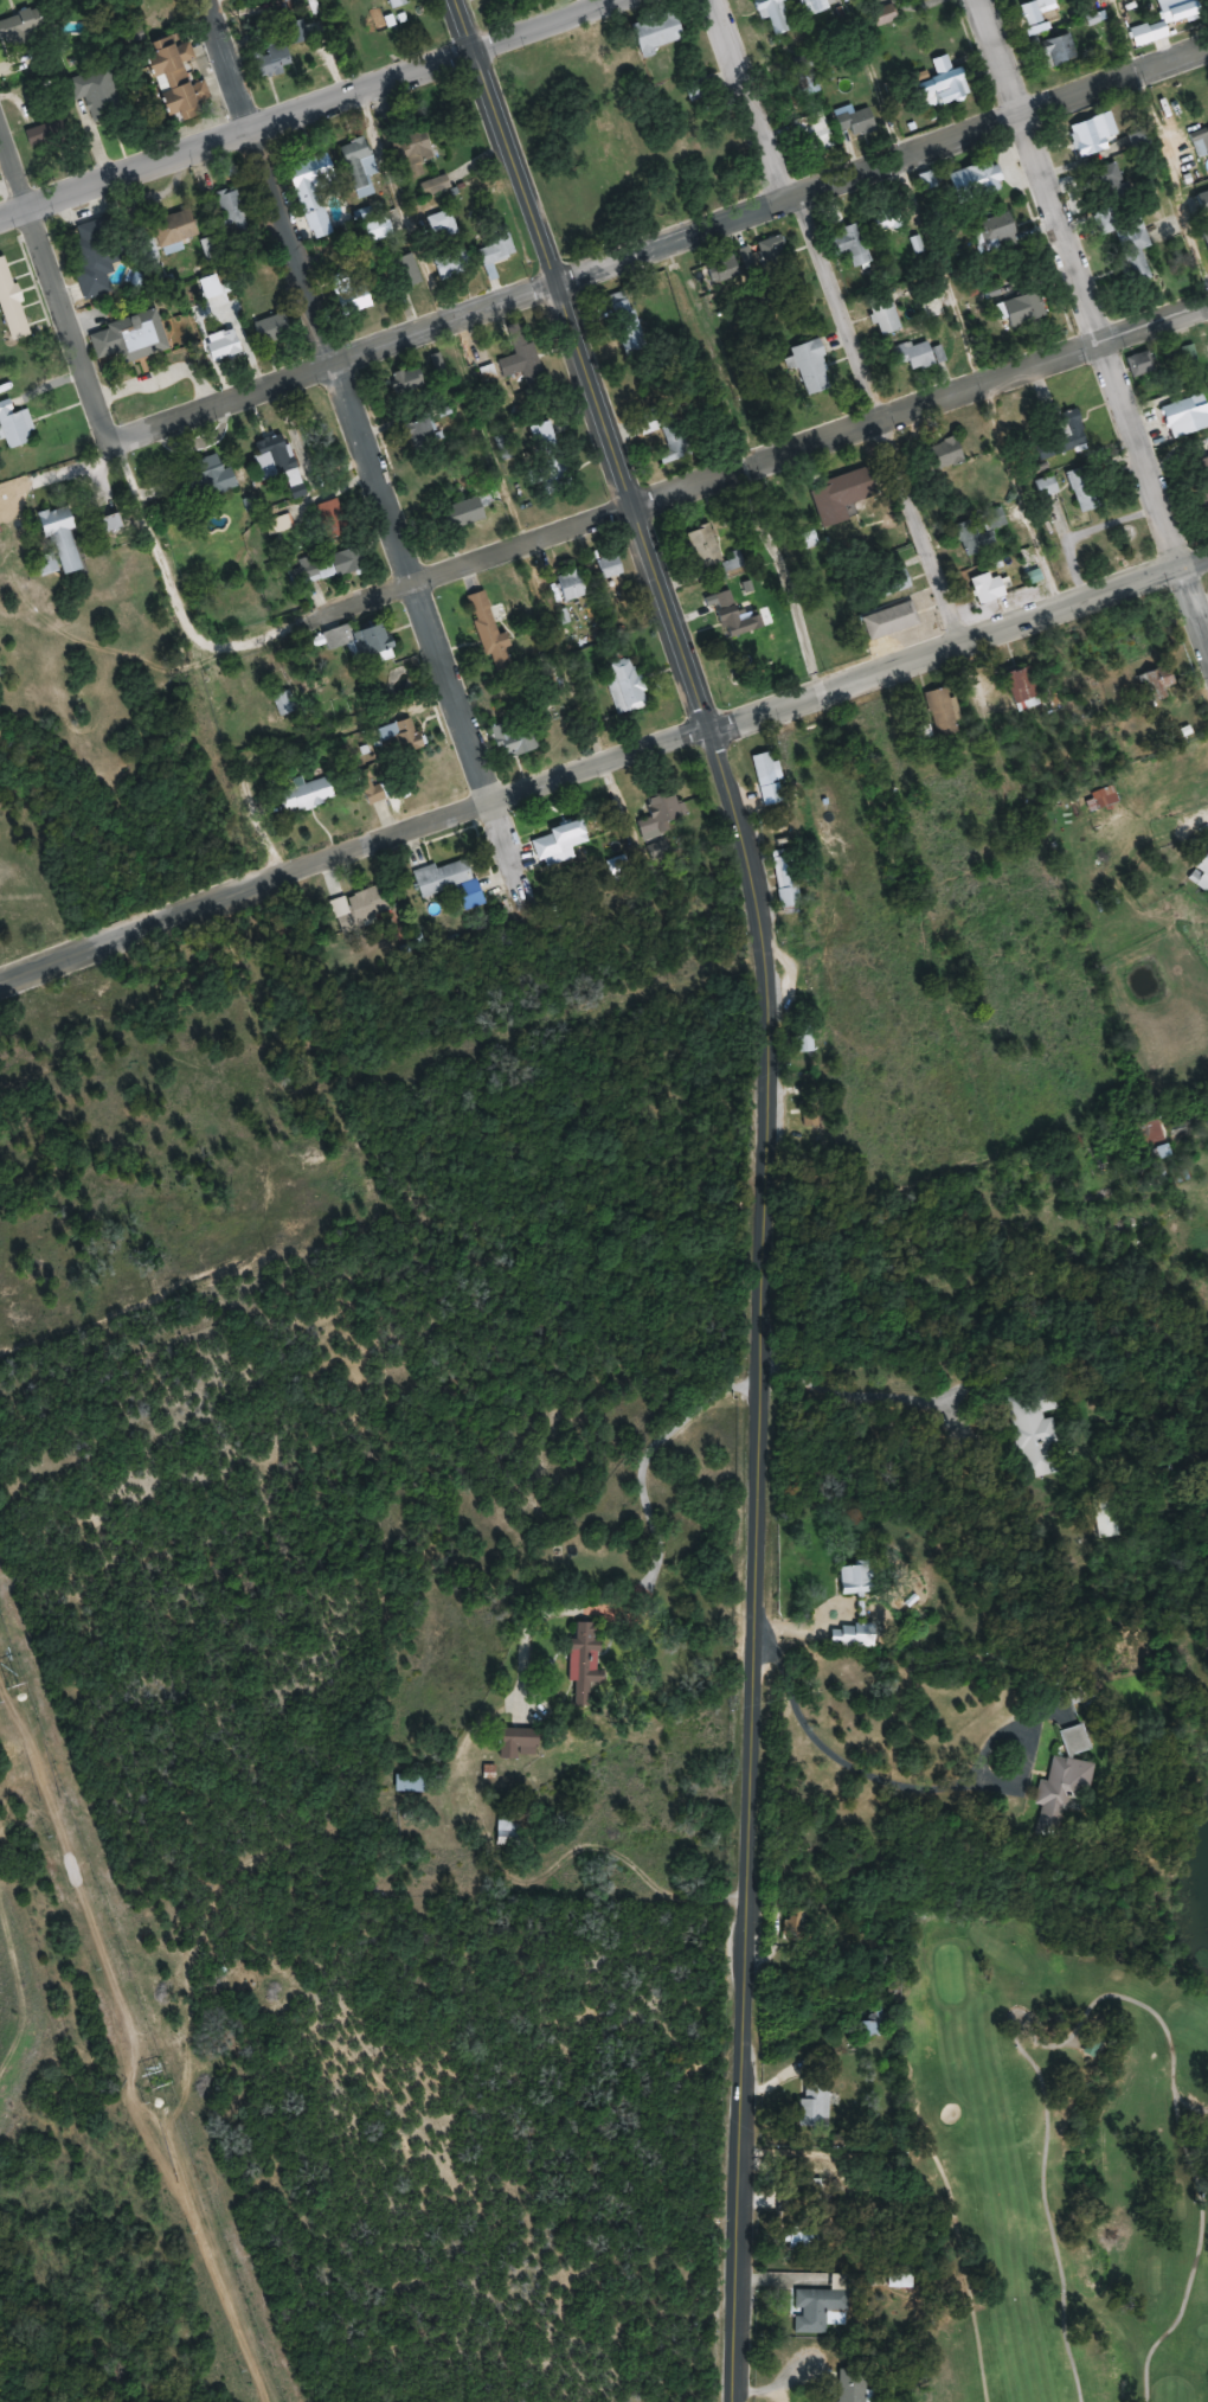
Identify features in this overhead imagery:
building: (398, 2)
building: (814, 6)
building: (1035, 9)
building: (1180, 9)
building: (778, 14)
building: (885, 15)
building: (25, 25)
building: (658, 33)
building: (1060, 51)
building: (272, 59)
building: (179, 79)
building: (949, 84)
building: (101, 94)
road: (323, 98)
road: (1167, 120)
building: (859, 122)
building: (815, 132)
building: (50, 134)
building: (1094, 135)
road: (18, 141)
building: (1200, 142)
building: (410, 149)
building: (359, 166)
building: (978, 180)
building: (436, 185)
building: (314, 192)
building: (1203, 203)
road: (18, 204)
building: (232, 212)
building: (364, 214)
building: (886, 220)
building: (444, 226)
building: (1127, 226)
building: (176, 229)
building: (378, 230)
building: (1204, 231)
building: (997, 233)
road: (664, 242)
building: (855, 245)
building: (95, 255)
building: (775, 255)
building: (496, 256)
building: (452, 264)
building: (724, 269)
building: (409, 270)
road: (1078, 280)
building: (210, 288)
road: (968, 296)
building: (356, 301)
building: (12, 302)
building: (1026, 309)
road: (840, 314)
building: (886, 316)
road: (79, 319)
building: (628, 322)
building: (274, 328)
building: (129, 339)
building: (224, 345)
building: (1189, 352)
building: (924, 356)
building: (525, 360)
building: (1142, 363)
building: (812, 367)
building: (409, 382)
road: (346, 397)
building: (1187, 417)
building: (15, 425)
building: (1073, 429)
building: (424, 433)
building: (674, 436)
building: (550, 453)
building: (943, 454)
building: (275, 456)
road: (756, 457)
building: (1202, 479)
building: (206, 480)
building: (1047, 487)
building: (1085, 489)
building: (843, 495)
building: (465, 512)
building: (334, 518)
building: (114, 523)
building: (982, 533)
building: (64, 540)
building: (703, 547)
building: (735, 559)
building: (327, 566)
building: (610, 566)
road: (795, 568)
building: (900, 582)
building: (572, 585)
building: (988, 588)
road: (175, 594)
road: (1191, 595)
building: (482, 610)
building: (739, 616)
building: (891, 621)
building: (362, 641)
building: (501, 656)
building: (1156, 681)
building: (625, 685)
building: (1026, 687)
building: (283, 704)
building: (943, 712)
building: (400, 738)
building: (518, 738)
road: (603, 757)
building: (766, 767)
building: (307, 796)
building: (1101, 798)
building: (662, 815)
building: (561, 840)
road: (506, 847)
building: (661, 851)
building: (1201, 873)
building: (451, 882)
building: (788, 884)
building: (368, 905)
building: (1155, 1136)
road: (766, 1176)
building: (1035, 1433)
building: (1103, 1516)
building: (857, 1578)
building: (854, 1634)
building: (585, 1660)
power tower: (13, 1683)
building: (1075, 1741)
building: (520, 1742)
building: (1071, 1775)
building: (412, 1782)
building: (508, 1831)
dam: (7, 1998)
building: (874, 2022)
power tower: (155, 2084)
building: (814, 2105)
park: (1066, 2142)
building: (798, 2238)
building: (818, 2310)
building: (852, 2385)

